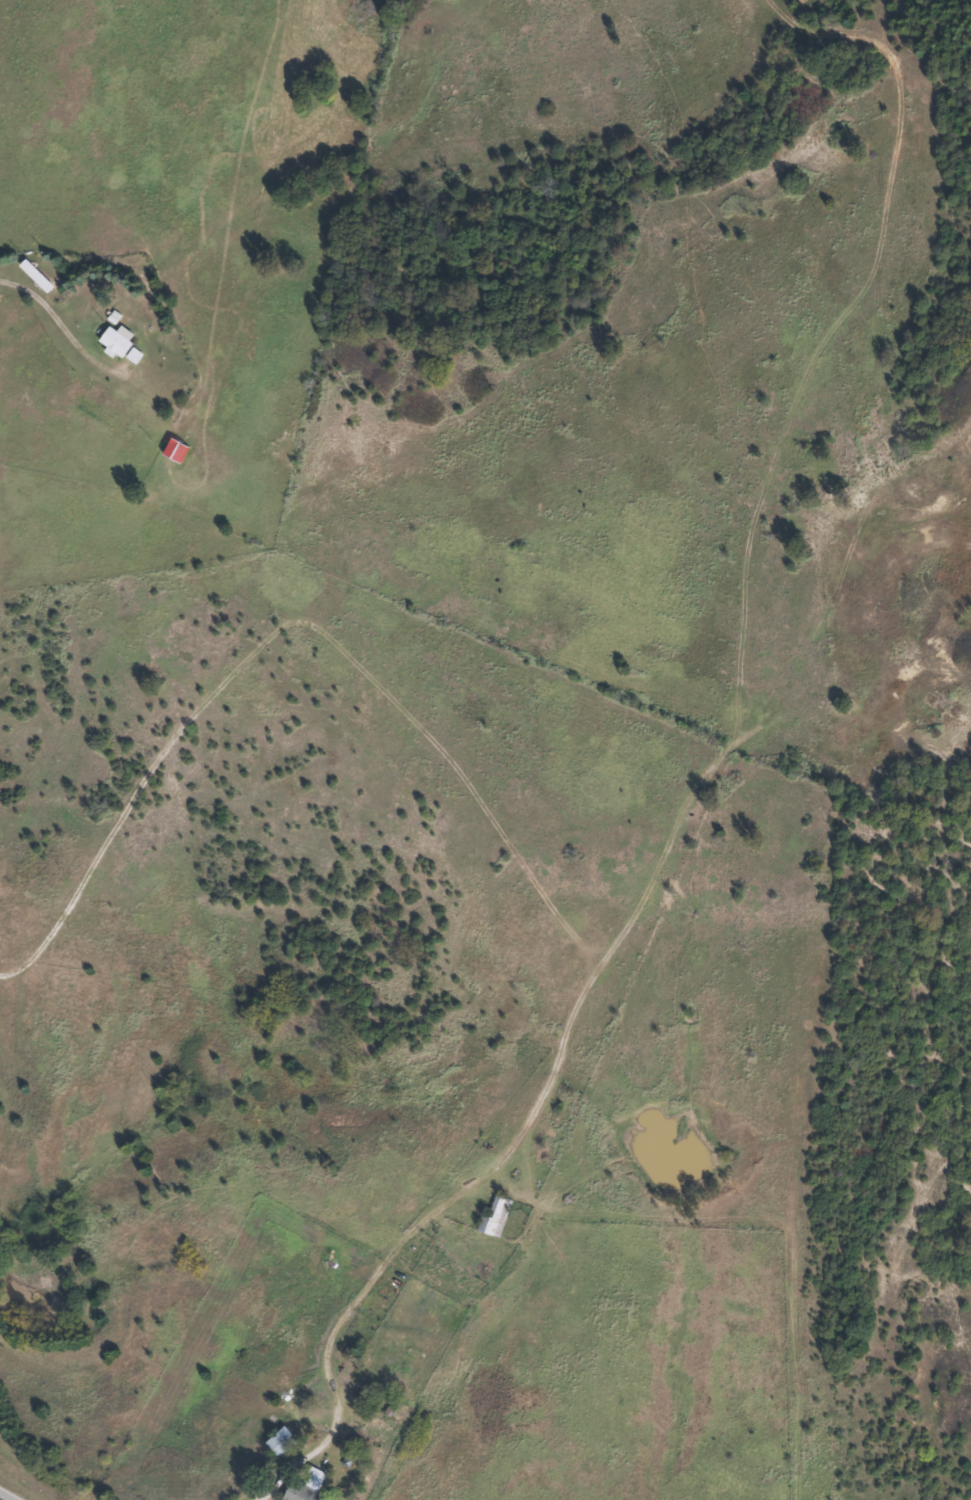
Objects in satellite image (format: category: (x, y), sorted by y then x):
building: (32, 276)
building: (115, 344)
building: (494, 1218)
building: (277, 1441)
building: (302, 1486)
road: (1, 1499)

